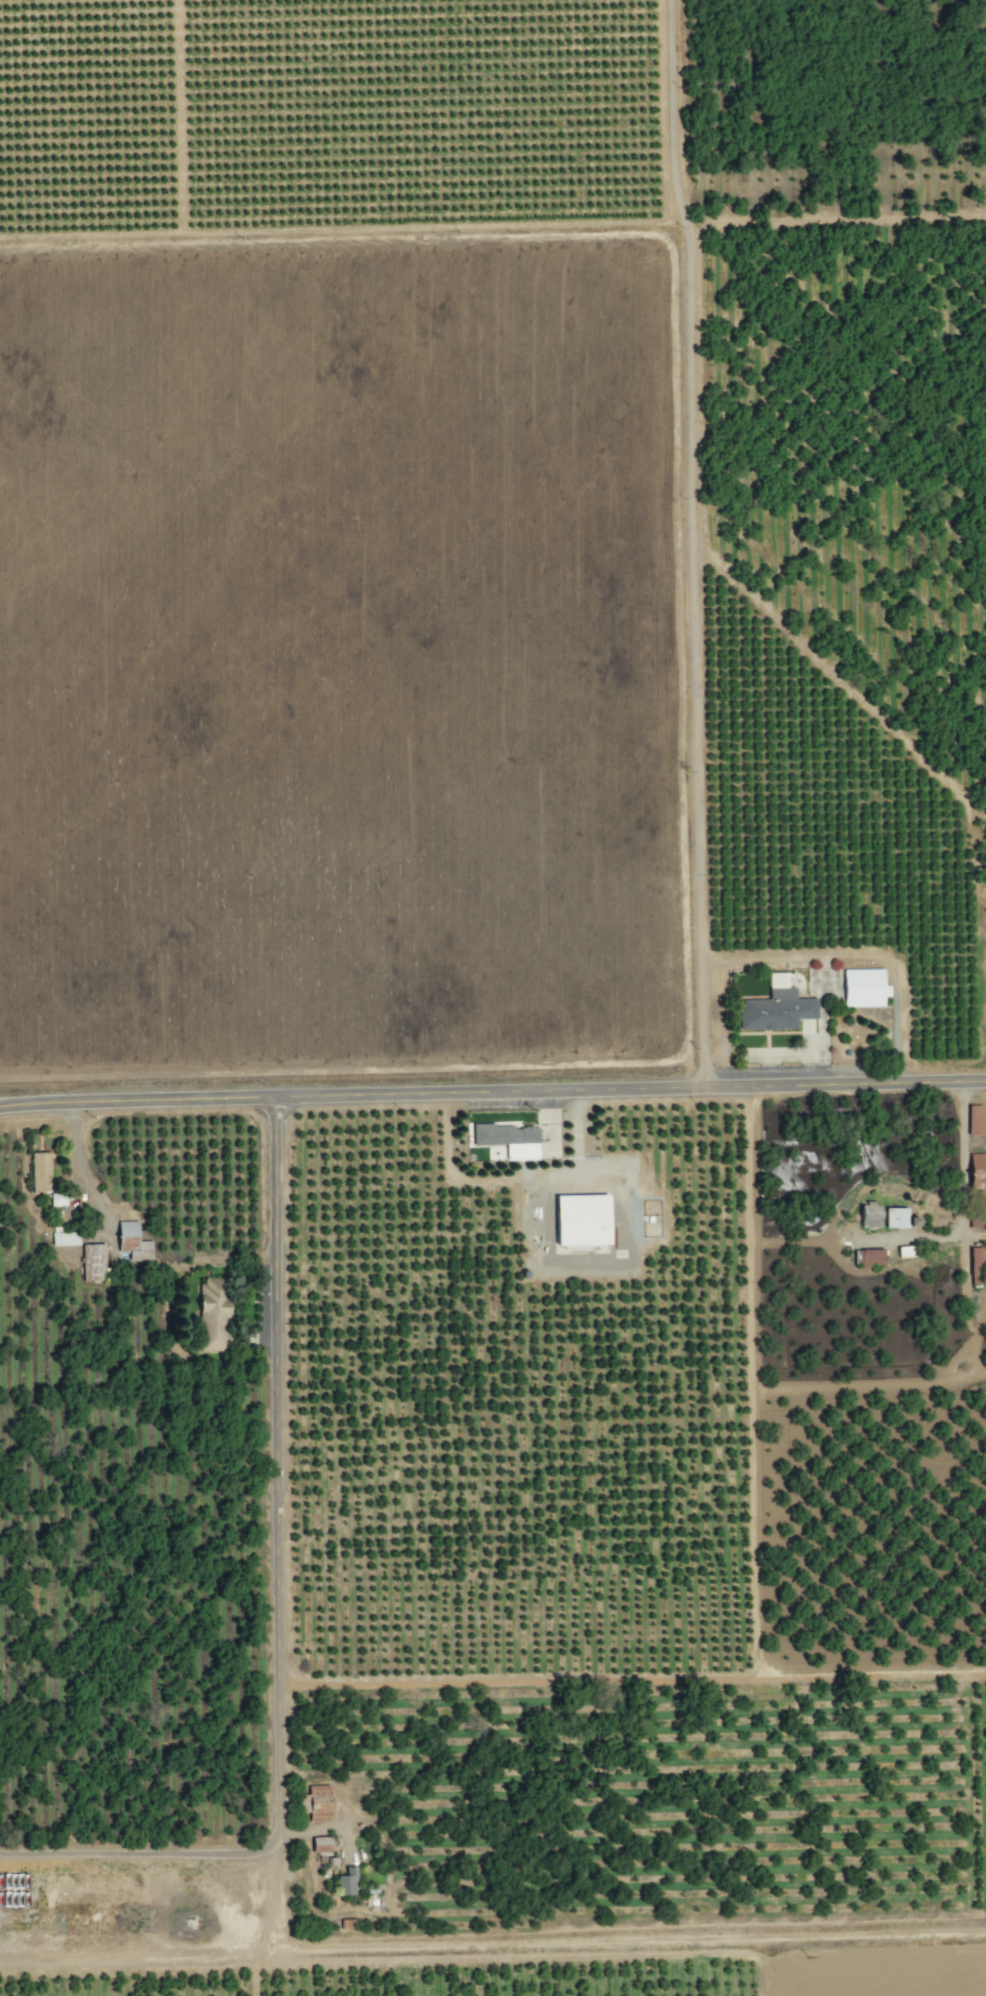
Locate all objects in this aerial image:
road: (696, 542)
road: (855, 952)
building: (863, 987)
building: (775, 1006)
road: (492, 1091)
building: (973, 1119)
building: (507, 1139)
road: (73, 1170)
building: (40, 1172)
building: (977, 1172)
road: (953, 1198)
building: (869, 1215)
building: (898, 1218)
building: (580, 1219)
building: (64, 1238)
building: (131, 1242)
road: (625, 1249)
building: (869, 1257)
building: (92, 1261)
building: (974, 1265)
building: (212, 1313)
road: (283, 1614)
building: (315, 1802)
building: (320, 1843)
building: (345, 1881)

